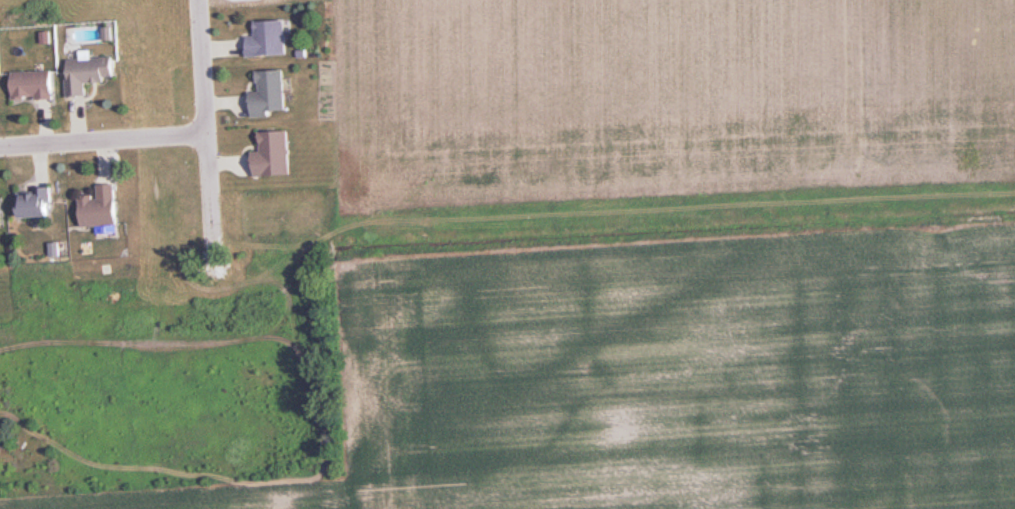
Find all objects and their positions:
building: (270, 38)
building: (89, 73)
building: (34, 84)
building: (271, 93)
road: (204, 124)
road: (102, 139)
building: (275, 153)
building: (36, 203)
building: (102, 205)
building: (1, 208)

